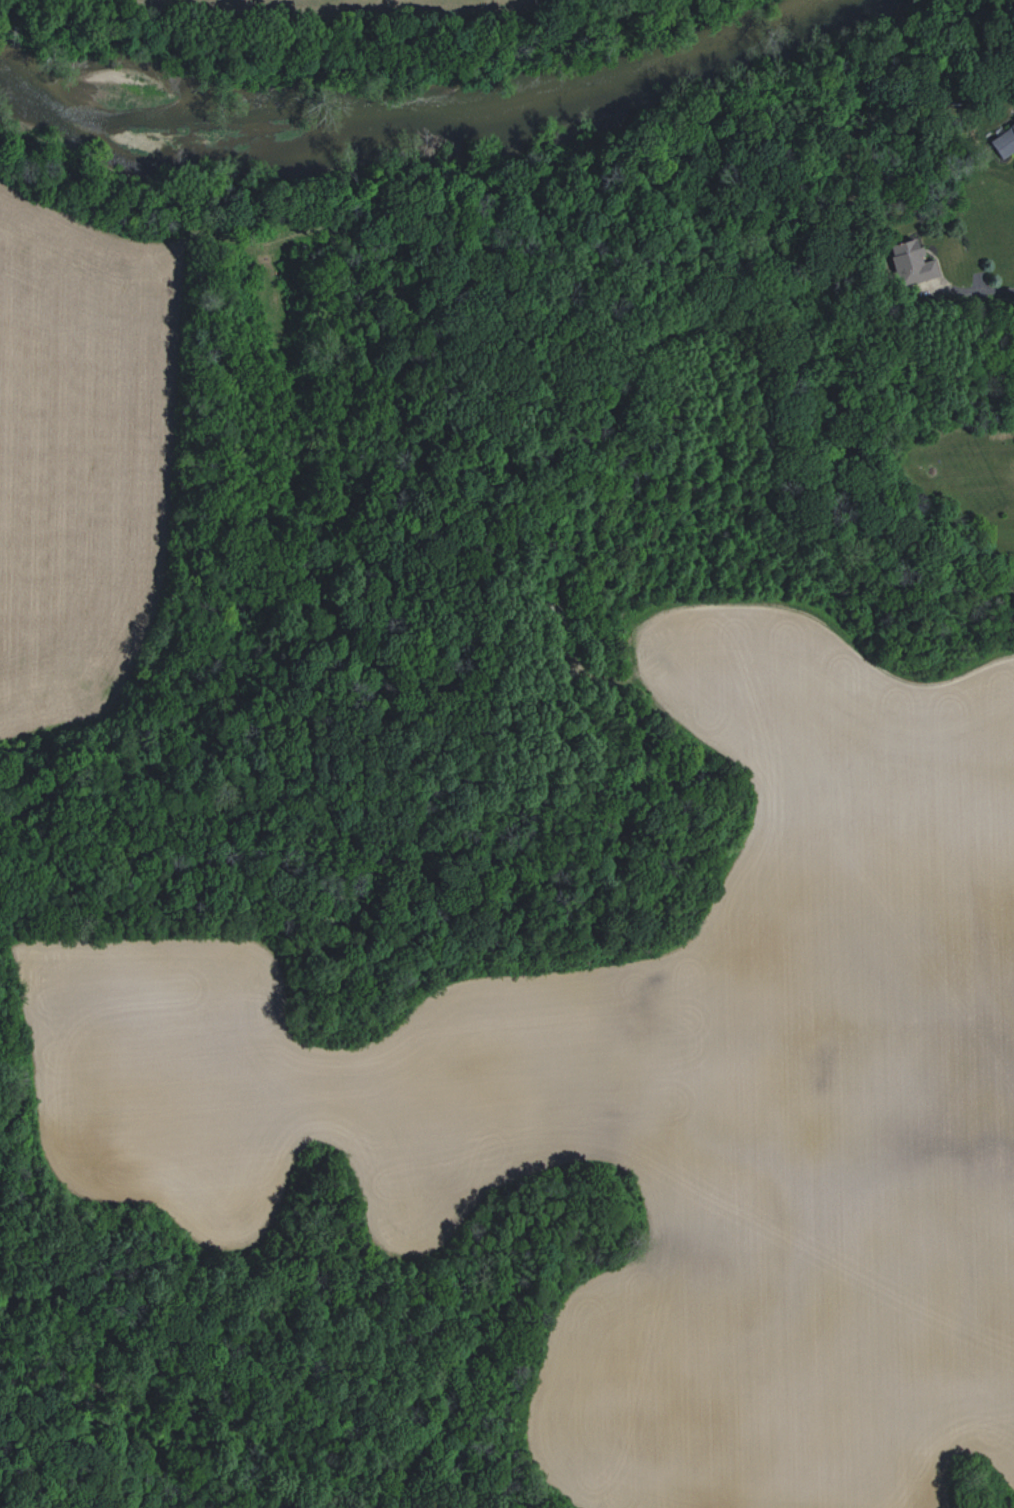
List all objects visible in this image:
river: (445, 123)
building: (1003, 141)
building: (911, 263)
road: (991, 292)

